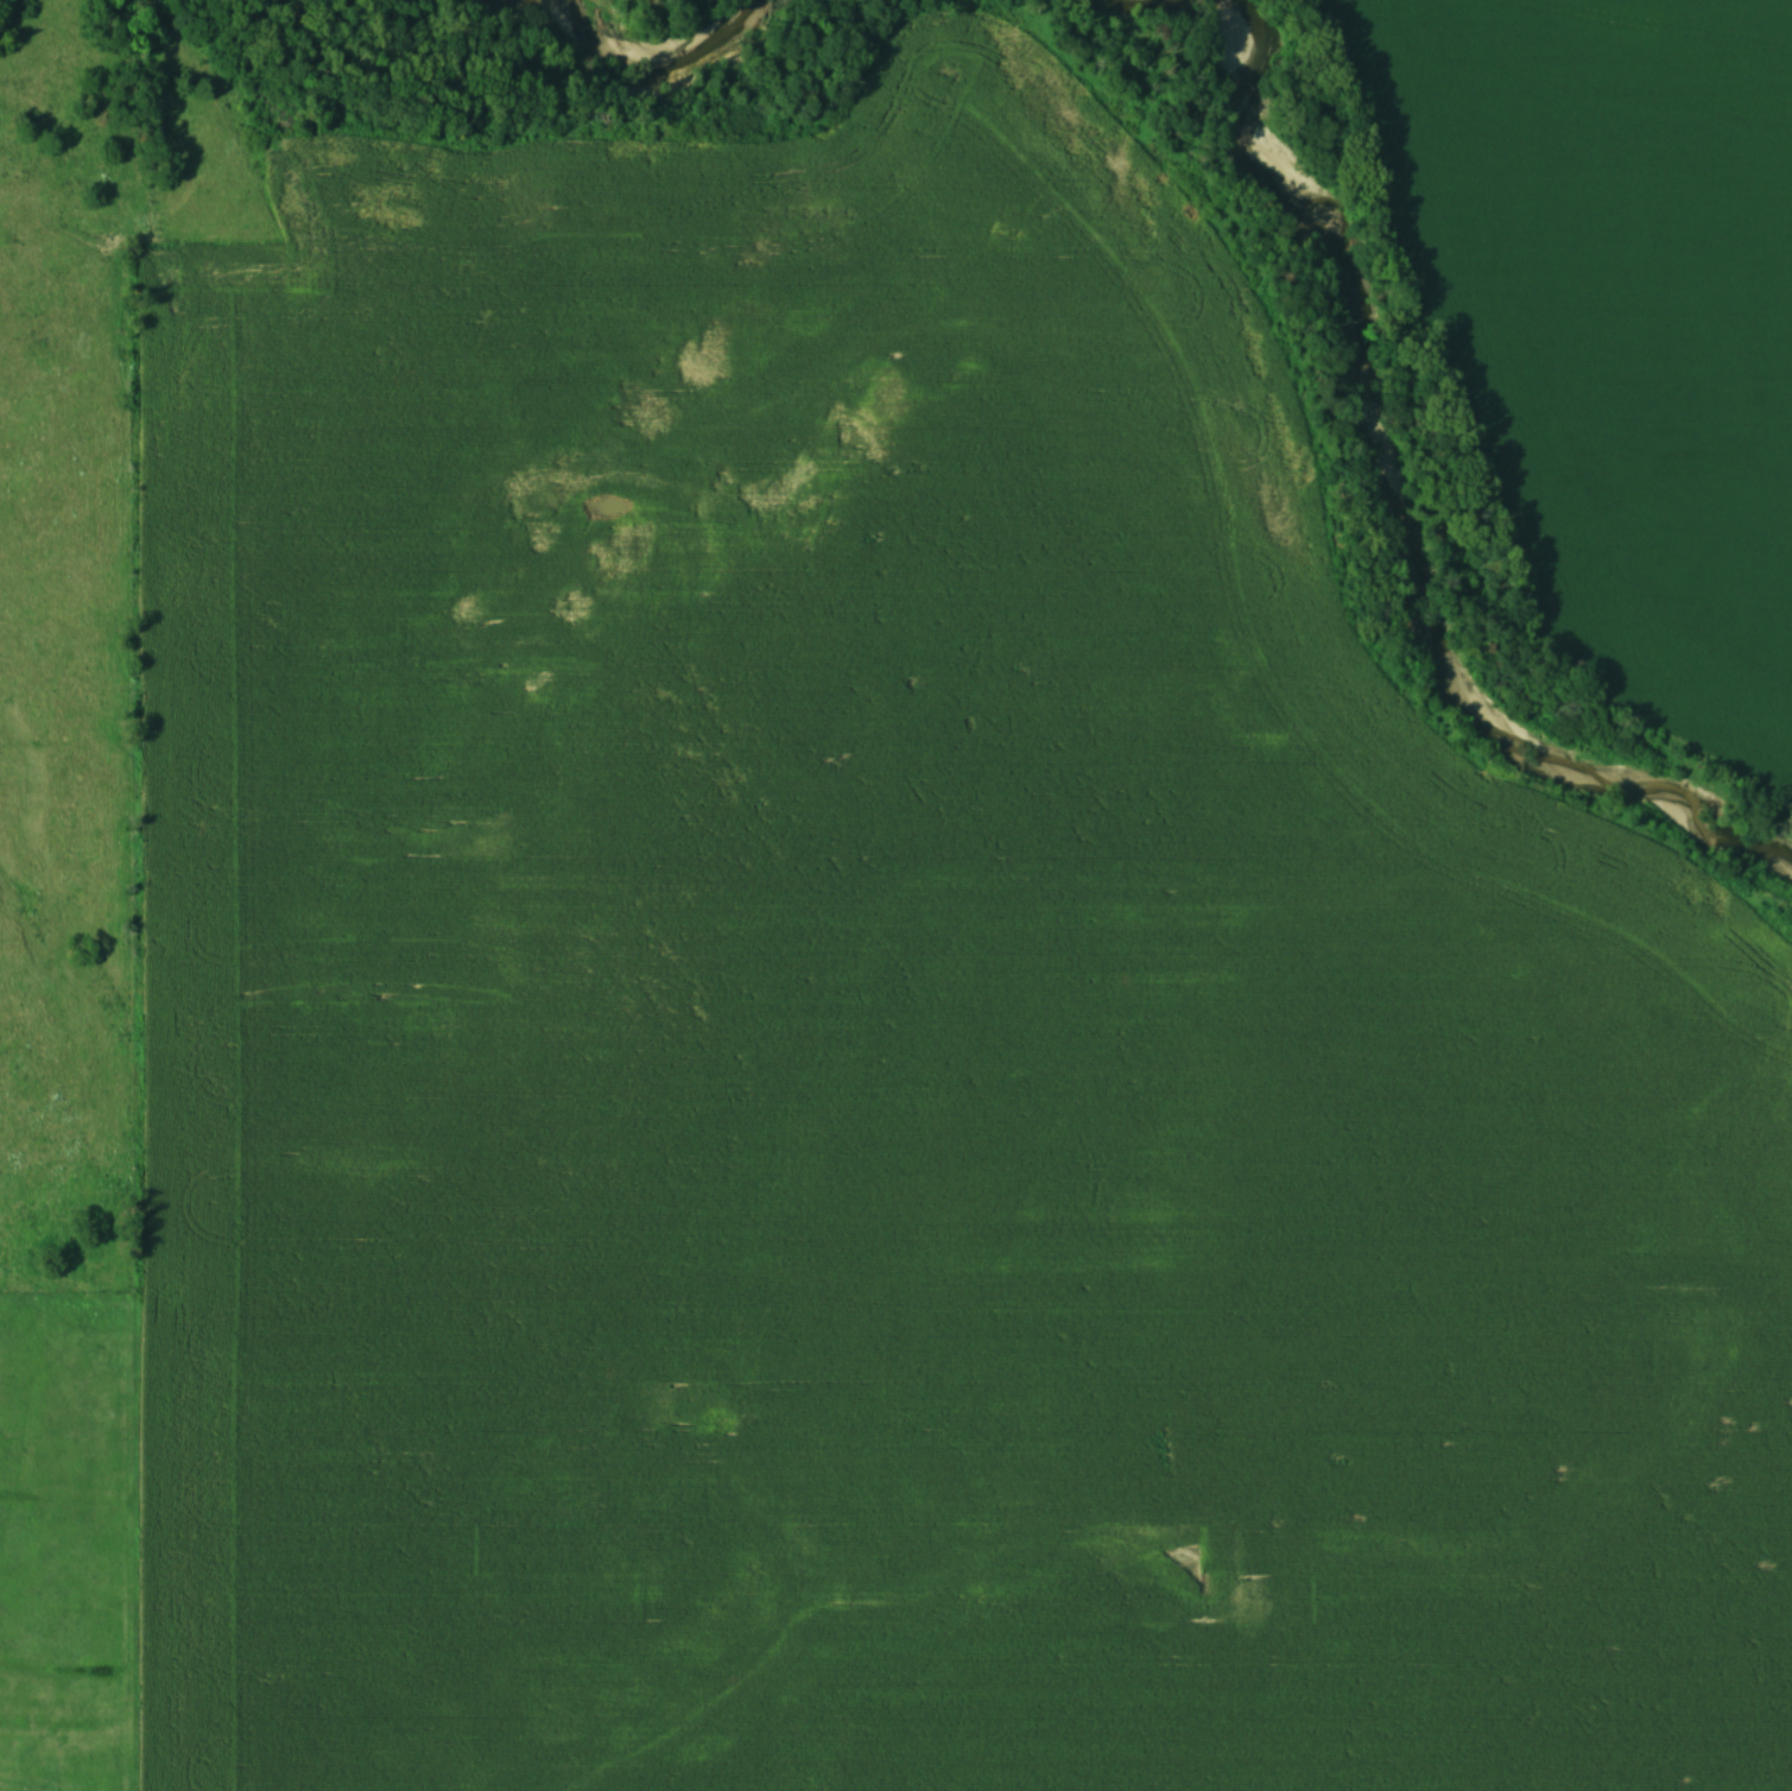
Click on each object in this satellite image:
river: (647, 45)
river: (1391, 524)

